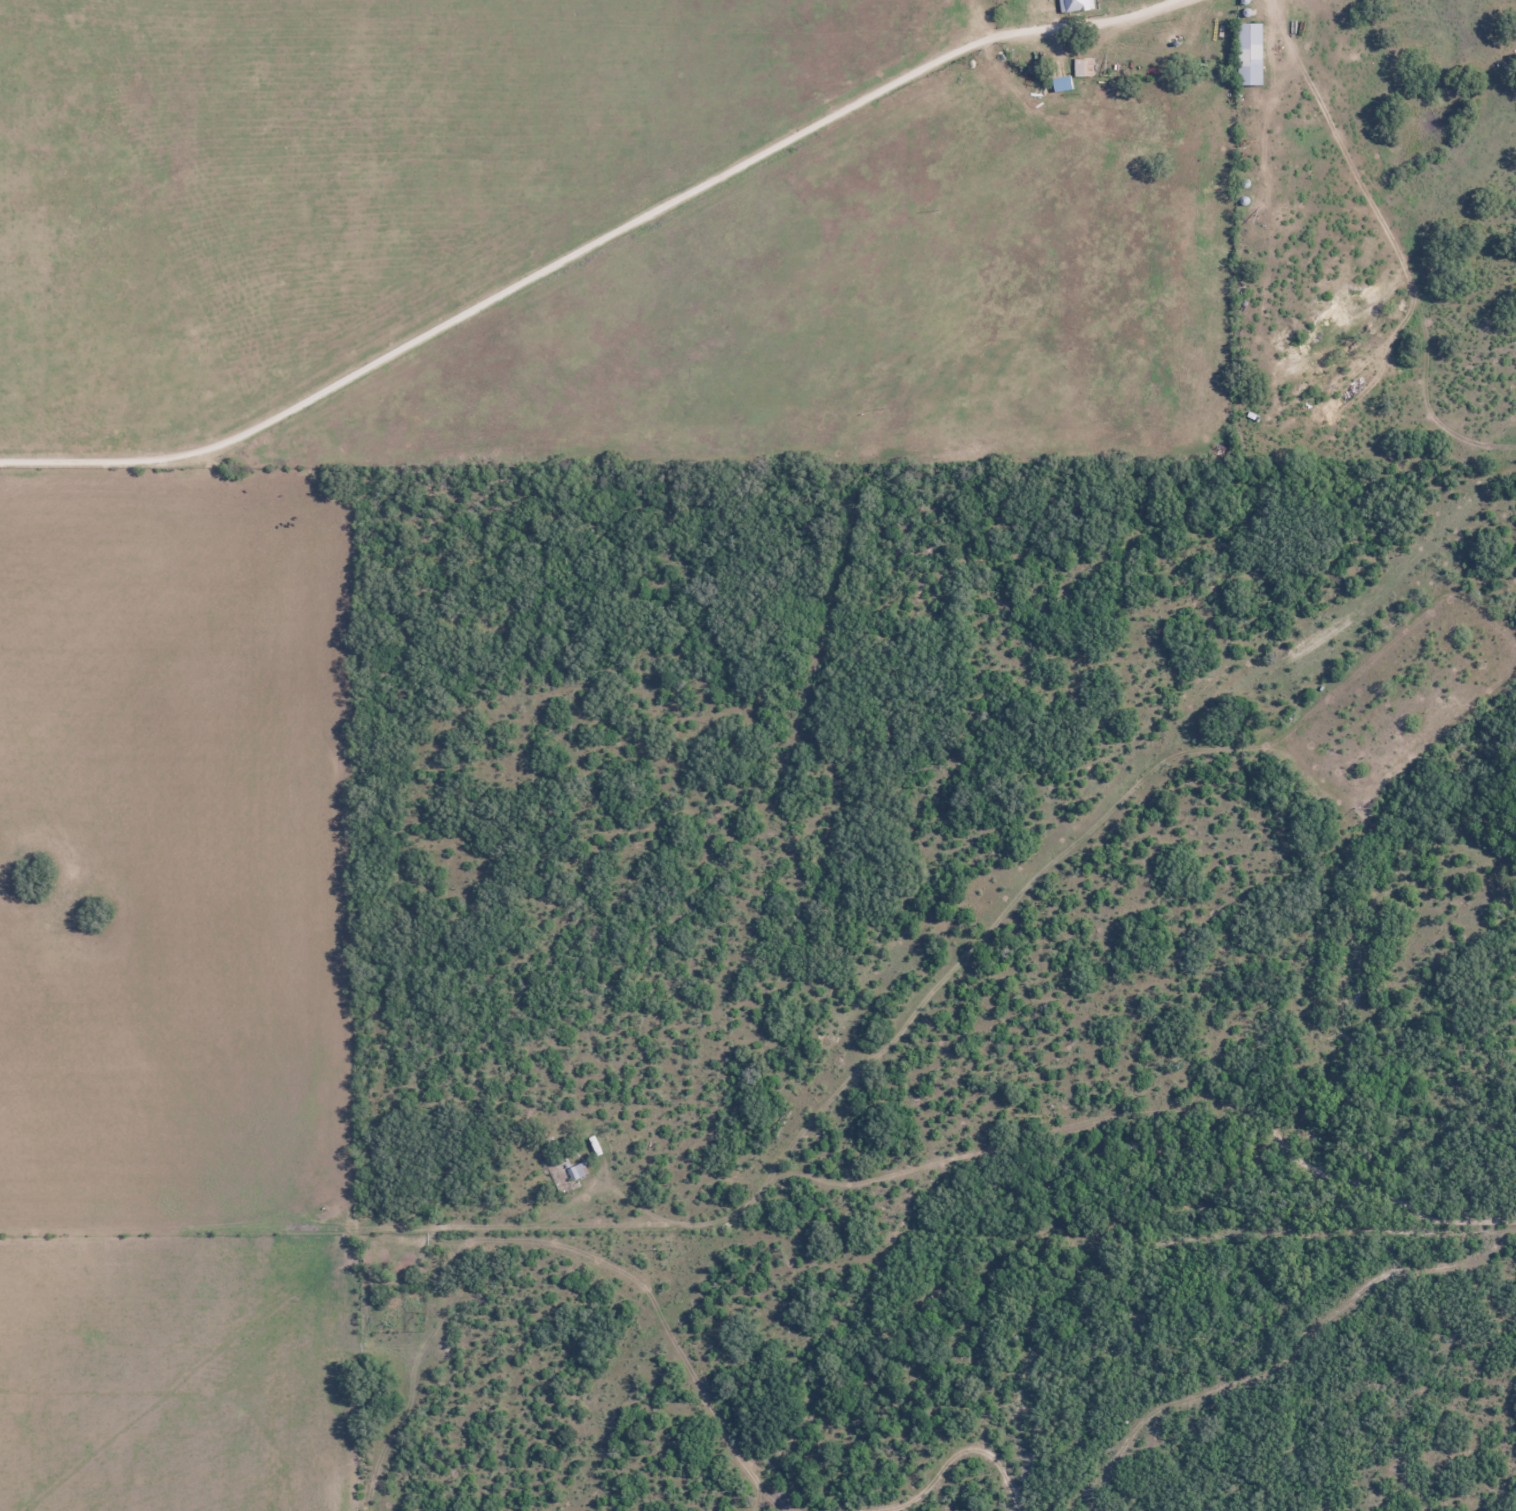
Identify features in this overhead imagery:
building: (1075, 6)
building: (1250, 54)
building: (1082, 67)
road: (592, 249)
building: (573, 1164)

